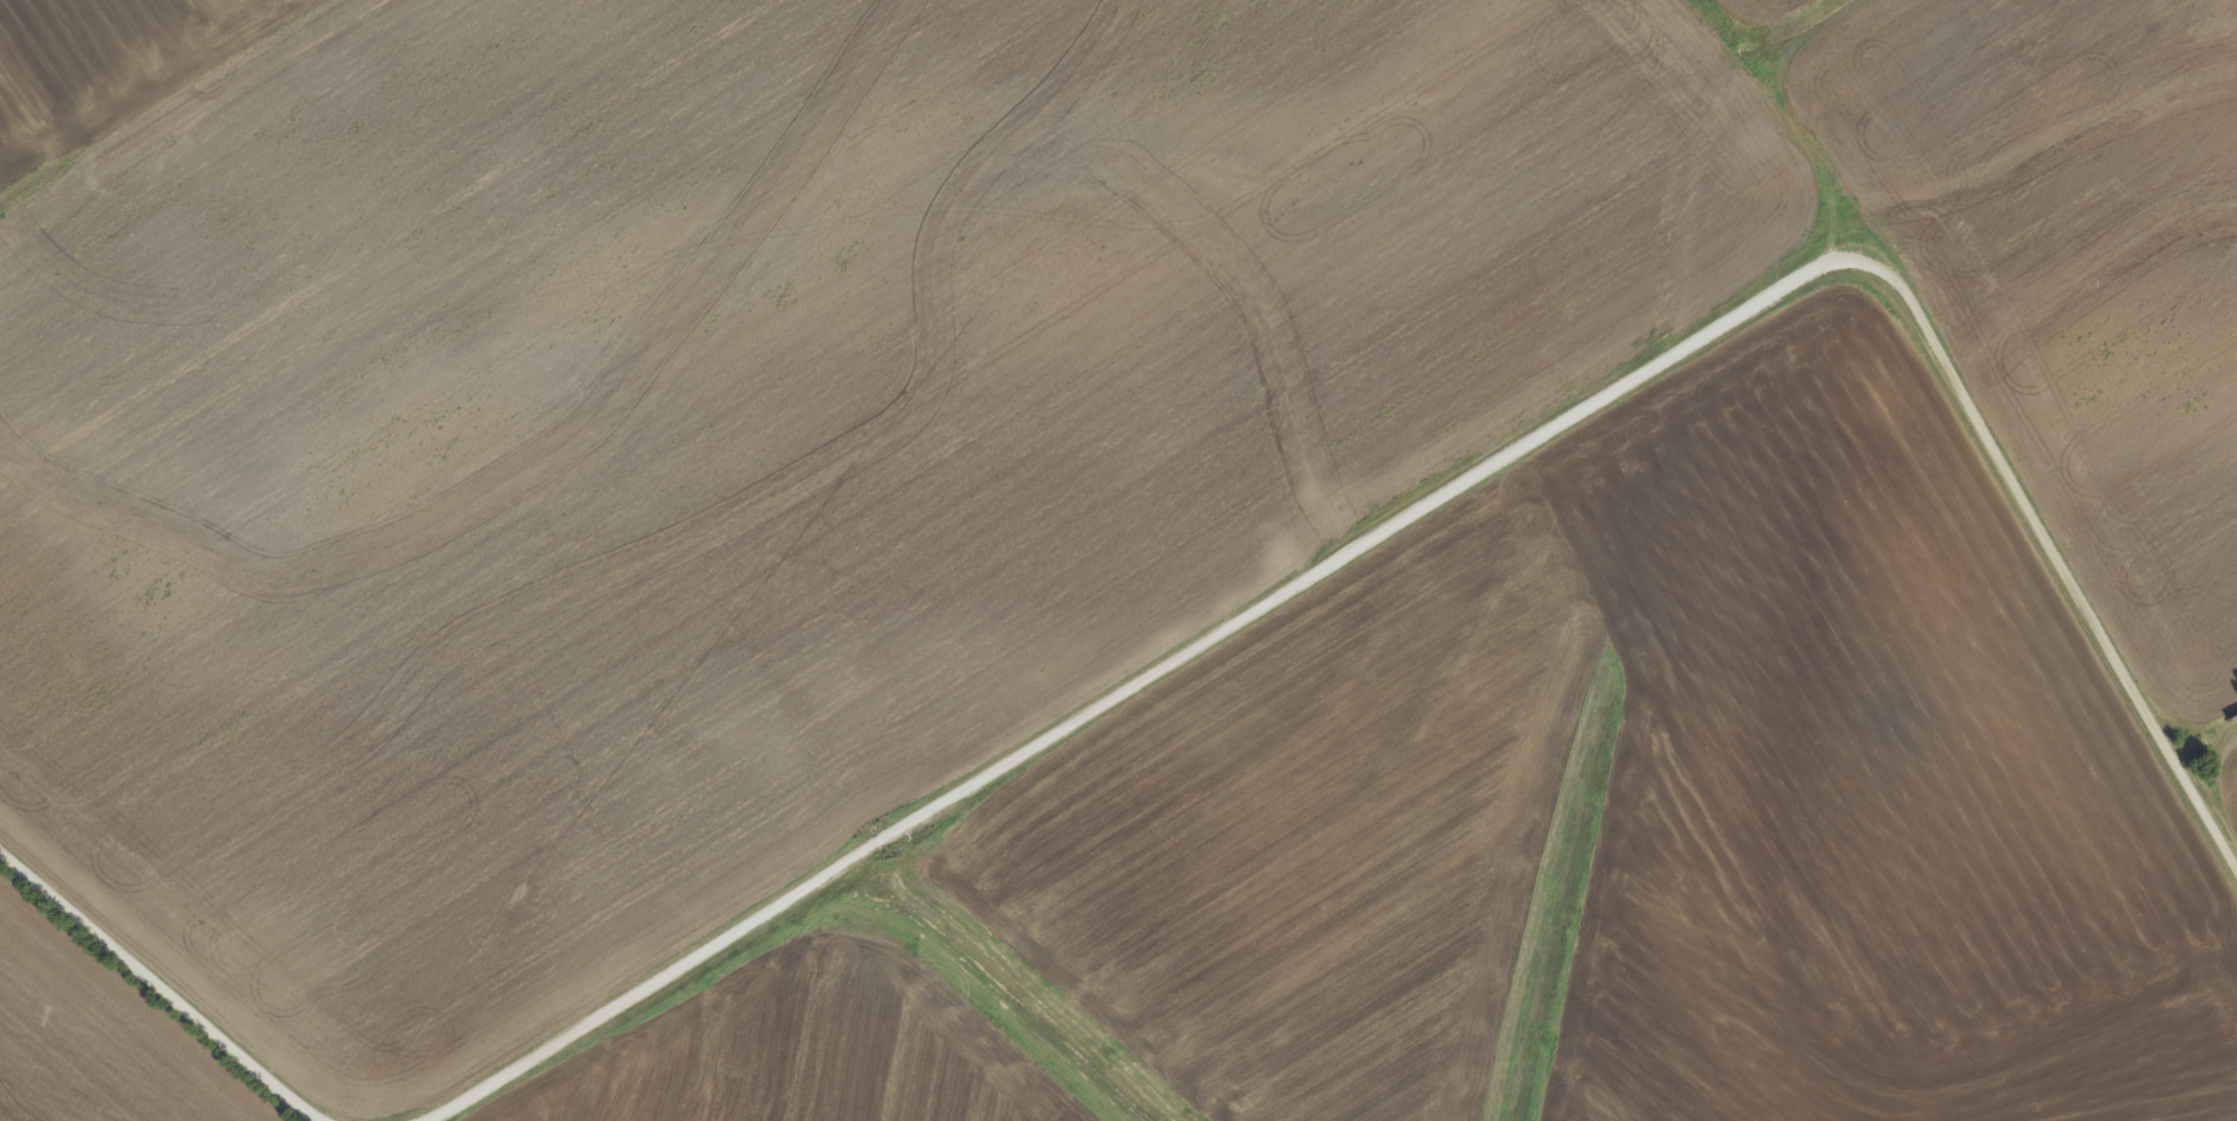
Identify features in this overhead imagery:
road: (1980, 426)
road: (984, 765)
road: (175, 980)

